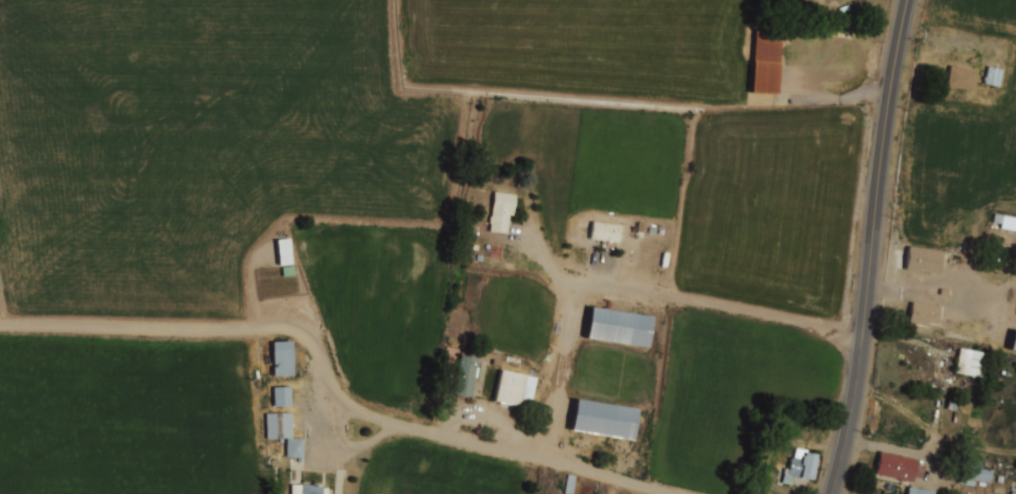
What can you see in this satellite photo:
building: (812, 1)
building: (992, 75)
building: (962, 78)
building: (502, 210)
building: (1004, 220)
building: (605, 232)
road: (871, 247)
building: (924, 260)
road: (731, 307)
building: (924, 314)
building: (617, 325)
building: (1013, 340)
building: (280, 357)
building: (970, 361)
building: (466, 377)
road: (330, 381)
building: (514, 390)
building: (280, 395)
building: (602, 418)
building: (282, 431)
building: (800, 466)
building: (899, 467)
building: (975, 469)
building: (307, 489)
building: (918, 490)

